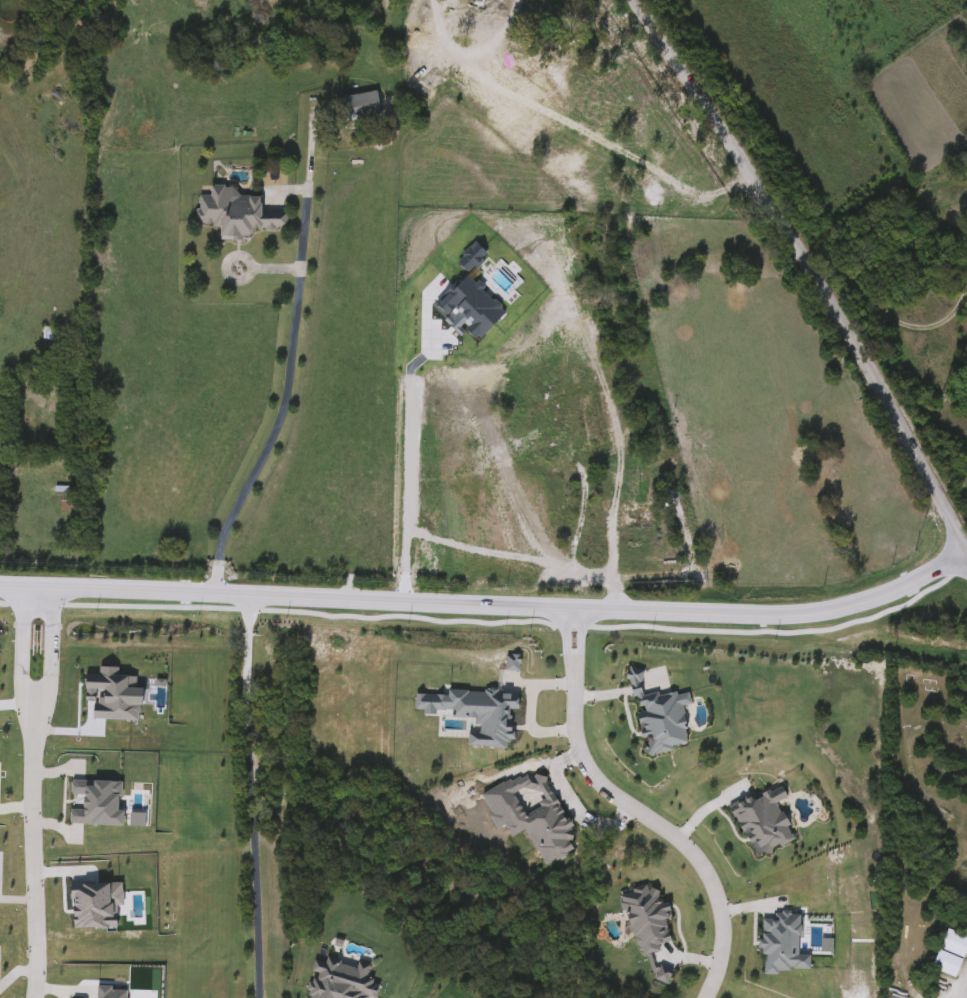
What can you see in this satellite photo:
building: (359, 106)
building: (234, 213)
road: (811, 269)
road: (886, 316)
road: (286, 368)
building: (586, 409)
building: (556, 417)
building: (610, 420)
road: (406, 461)
building: (666, 466)
building: (608, 513)
building: (635, 517)
building: (545, 555)
road: (544, 576)
road: (613, 577)
road: (487, 597)
road: (578, 627)
road: (563, 628)
road: (19, 642)
road: (50, 643)
road: (251, 791)
road: (579, 807)
road: (653, 823)
building: (719, 832)
road: (32, 851)
building: (633, 882)
building: (949, 952)
road: (964, 986)
road: (49, 990)

